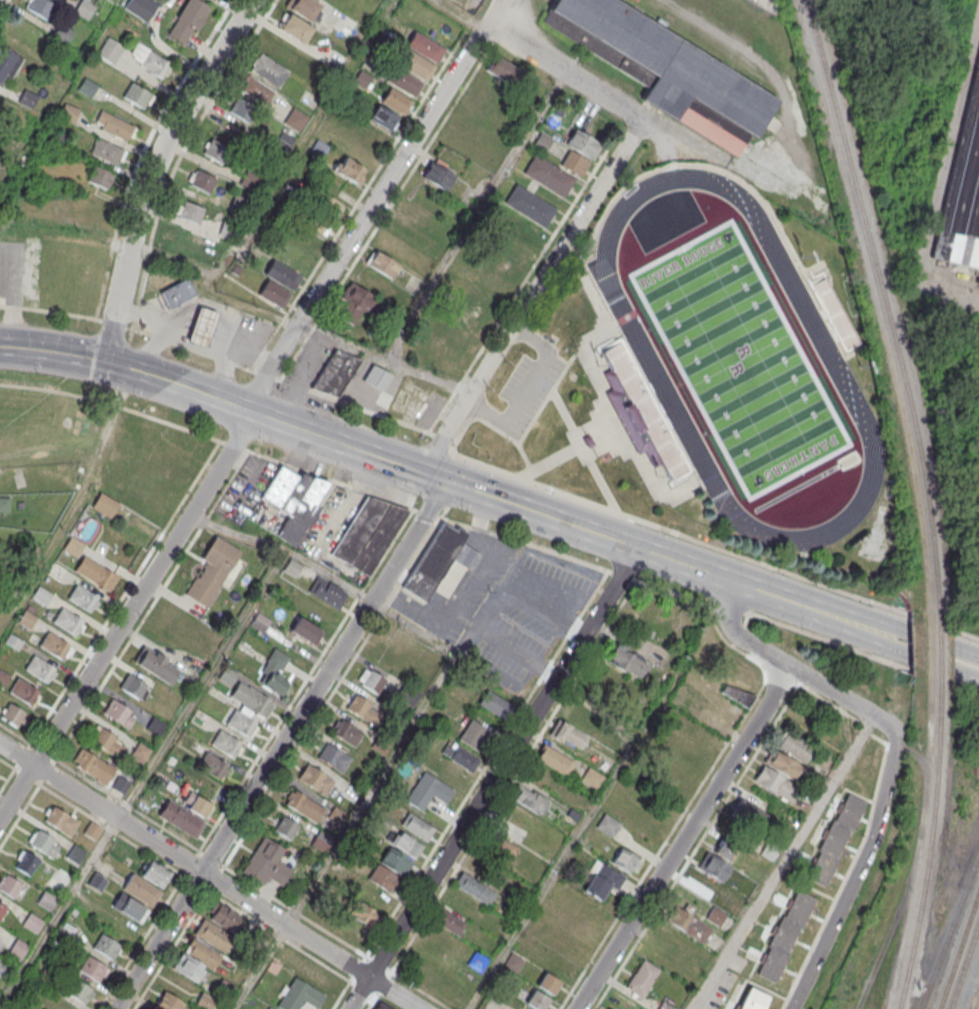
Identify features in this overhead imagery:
building: (42, 7)
building: (141, 7)
building: (84, 8)
building: (305, 8)
road: (458, 14)
road: (491, 14)
building: (187, 21)
building: (295, 28)
building: (110, 50)
building: (149, 60)
building: (7, 64)
building: (415, 64)
building: (268, 70)
building: (503, 70)
building: (666, 70)
road: (564, 73)
building: (87, 87)
building: (255, 89)
building: (137, 95)
building: (486, 95)
building: (396, 100)
building: (243, 110)
building: (69, 112)
building: (382, 117)
building: (114, 125)
road: (672, 135)
building: (374, 136)
road: (306, 137)
building: (58, 139)
building: (541, 143)
building: (582, 143)
building: (215, 150)
building: (107, 151)
building: (574, 163)
building: (348, 168)
road: (153, 169)
building: (438, 175)
building: (548, 175)
building: (99, 176)
building: (252, 180)
building: (202, 181)
building: (966, 197)
building: (529, 205)
building: (189, 210)
road: (474, 217)
road: (65, 233)
building: (306, 240)
road: (173, 260)
building: (383, 264)
building: (503, 264)
parking lot: (11, 273)
building: (282, 274)
building: (177, 292)
building: (273, 293)
building: (366, 296)
road: (535, 296)
railway: (885, 308)
road: (66, 314)
building: (470, 318)
building: (200, 325)
road: (329, 340)
road: (191, 344)
road: (153, 351)
track: (644, 352)
road: (84, 358)
park: (733, 364)
building: (335, 372)
building: (376, 377)
road: (220, 378)
building: (619, 380)
road: (529, 391)
road: (112, 404)
road: (242, 423)
traffic signals: (424, 473)
road: (251, 476)
traffic signals: (446, 481)
parking lot: (246, 487)
building: (294, 500)
building: (4, 504)
building: (104, 504)
road: (440, 518)
road: (572, 526)
building: (368, 533)
building: (72, 545)
road: (488, 558)
building: (439, 559)
building: (216, 572)
building: (58, 573)
building: (95, 574)
road: (132, 579)
building: (327, 592)
building: (41, 596)
building: (82, 598)
parking lot: (502, 607)
road: (143, 618)
building: (26, 619)
building: (67, 621)
building: (260, 622)
road: (471, 624)
building: (306, 631)
building: (54, 645)
railway: (937, 651)
building: (625, 661)
building: (155, 664)
road: (790, 666)
building: (39, 669)
building: (275, 671)
building: (227, 676)
building: (3, 679)
road: (306, 680)
building: (371, 681)
building: (133, 686)
building: (23, 691)
building: (737, 695)
building: (252, 699)
building: (495, 705)
building: (362, 710)
building: (118, 713)
building: (12, 715)
building: (241, 723)
building: (156, 726)
building: (347, 733)
road: (15, 734)
building: (567, 734)
building: (473, 735)
building: (105, 741)
building: (225, 744)
road: (280, 745)
building: (794, 746)
building: (139, 754)
building: (461, 757)
building: (334, 758)
building: (554, 759)
road: (486, 763)
building: (781, 764)
building: (213, 766)
building: (101, 771)
building: (591, 777)
road: (141, 779)
road: (493, 779)
road: (7, 780)
building: (315, 780)
building: (775, 783)
building: (427, 792)
building: (528, 799)
building: (304, 805)
road: (589, 812)
road: (91, 817)
building: (181, 819)
building: (61, 822)
building: (608, 825)
building: (285, 826)
building: (416, 827)
building: (92, 831)
road: (684, 838)
building: (836, 839)
building: (320, 841)
building: (44, 844)
railway: (929, 845)
building: (407, 846)
building: (727, 846)
building: (500, 850)
building: (75, 855)
building: (626, 861)
building: (396, 862)
road: (787, 862)
building: (27, 864)
building: (266, 864)
building: (713, 867)
road: (208, 877)
road: (854, 877)
building: (59, 878)
building: (384, 880)
building: (96, 881)
road: (248, 882)
building: (603, 882)
building: (701, 884)
building: (9, 887)
building: (474, 888)
building: (141, 890)
building: (376, 899)
building: (46, 901)
building: (129, 907)
building: (2, 910)
building: (718, 911)
building: (365, 914)
building: (222, 915)
building: (33, 923)
building: (450, 923)
building: (688, 925)
railway: (949, 927)
building: (212, 934)
building: (0, 935)
road: (279, 937)
building: (785, 937)
road: (179, 938)
road: (141, 942)
building: (18, 947)
building: (106, 947)
railway: (958, 947)
building: (477, 961)
building: (513, 962)
railway: (963, 963)
road: (257, 966)
building: (3, 968)
building: (188, 968)
building: (92, 970)
building: (314, 975)
building: (642, 977)
building: (548, 984)
road: (419, 990)
building: (78, 991)
building: (298, 995)
railway: (974, 997)
railway: (976, 998)
road: (378, 1000)
building: (753, 1000)
building: (204, 1001)
building: (537, 1001)
building: (168, 1002)
building: (383, 1006)
building: (269, 1008)

